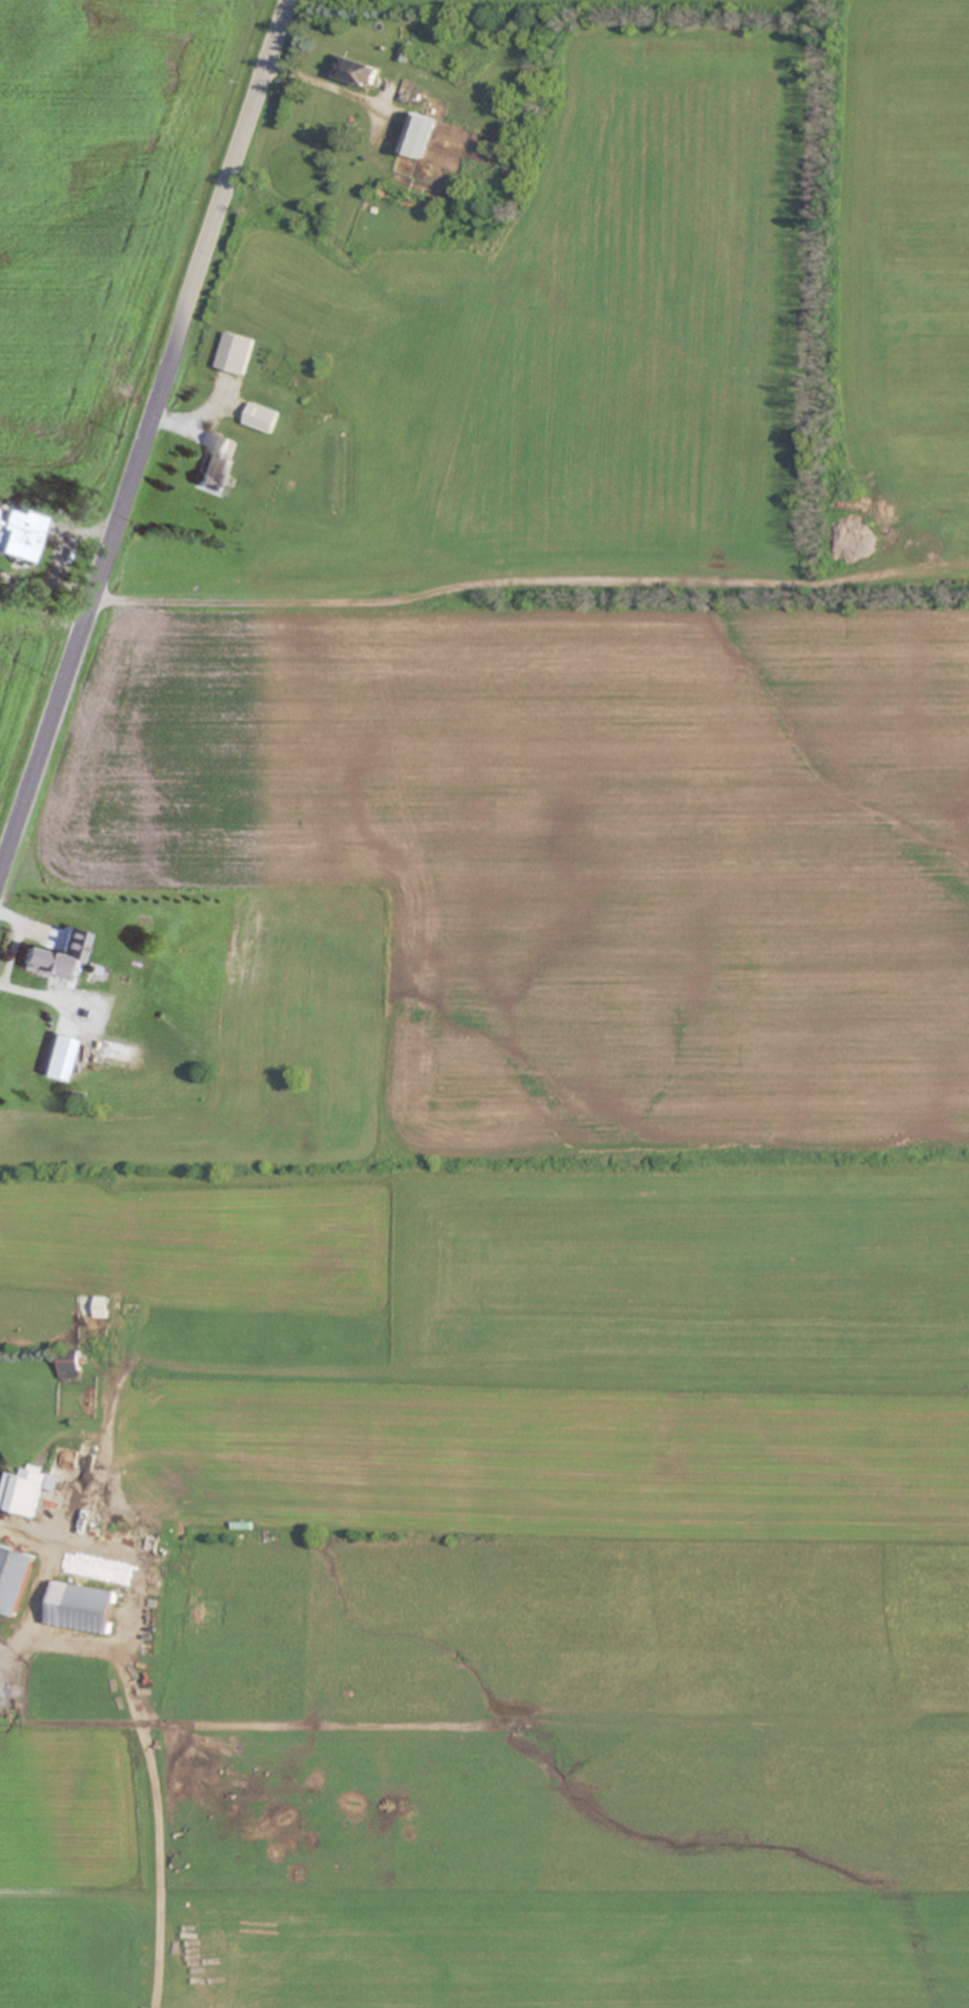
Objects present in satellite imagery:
building: (439, 61)
building: (358, 72)
building: (418, 135)
building: (235, 353)
building: (262, 418)
road: (144, 434)
building: (215, 465)
building: (18, 534)
building: (39, 960)
building: (55, 1056)
building: (69, 1363)
building: (24, 1490)
road: (45, 1575)
building: (13, 1578)
building: (82, 1607)

